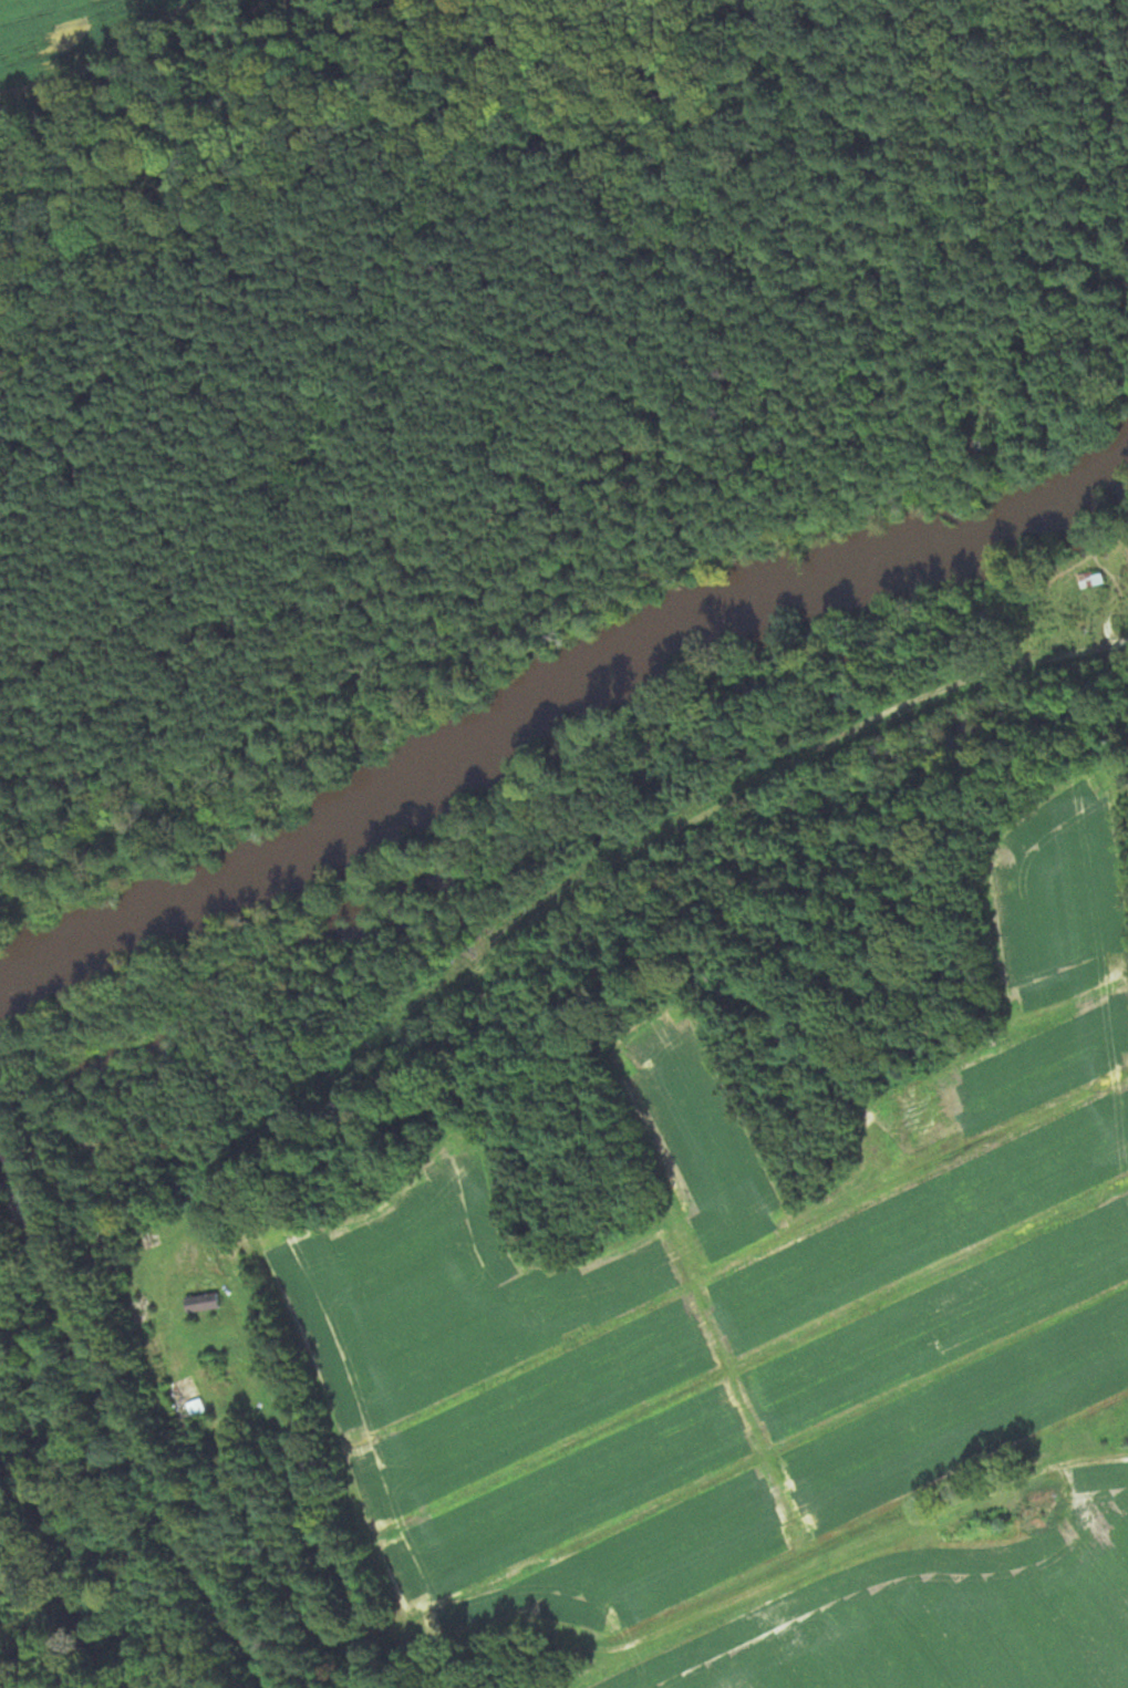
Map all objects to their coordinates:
river: (548, 675)
road: (601, 869)
building: (204, 1303)
railway: (127, 1413)

